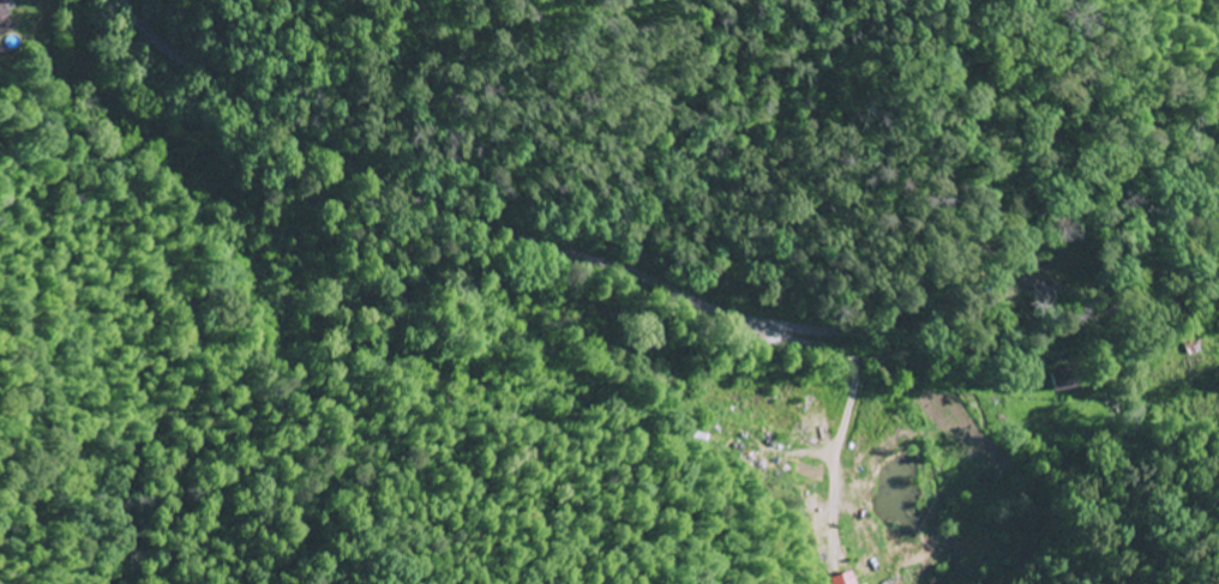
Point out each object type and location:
road: (642, 278)
road: (1041, 387)
building: (843, 579)

